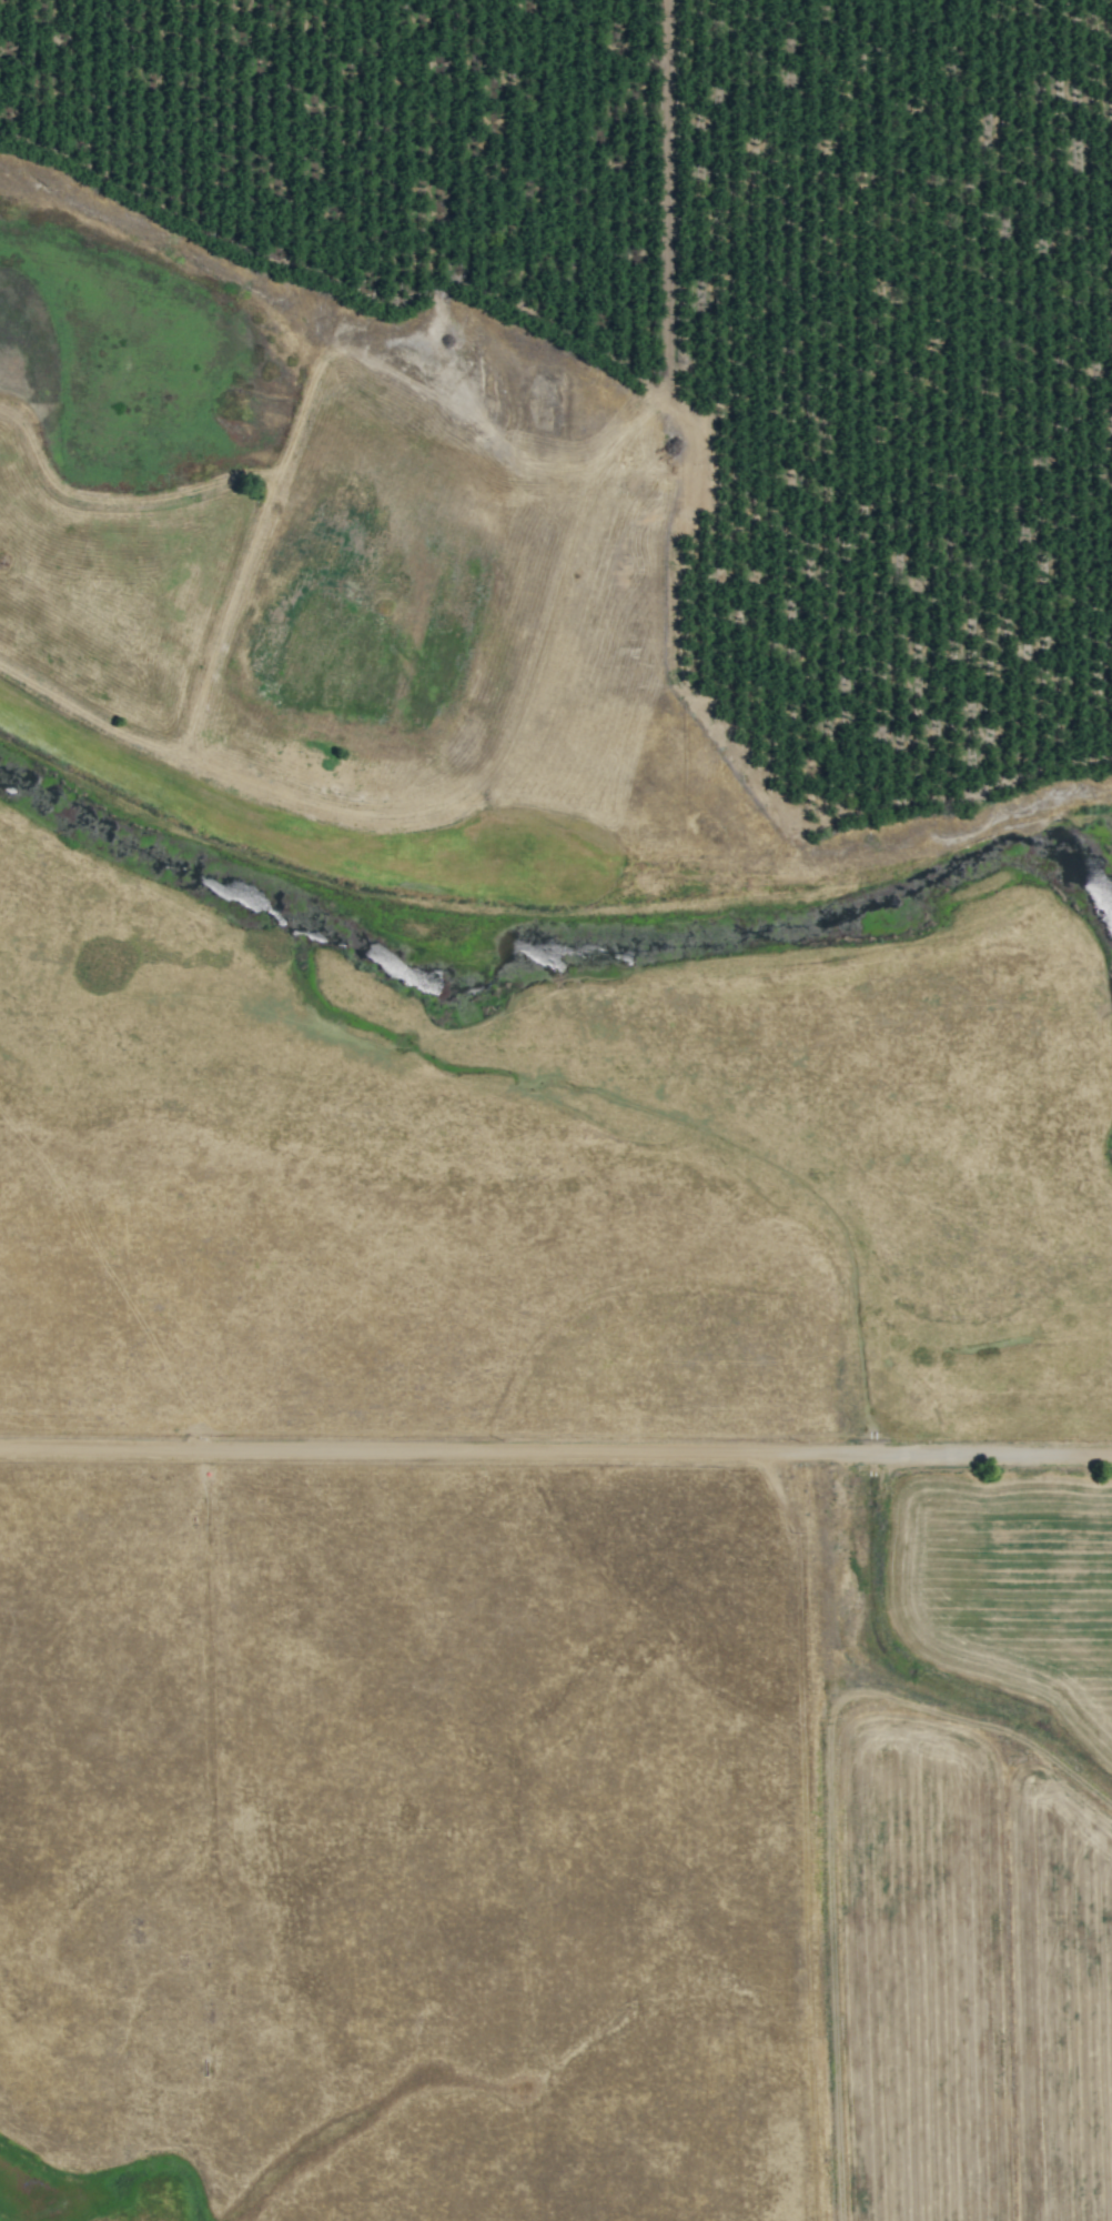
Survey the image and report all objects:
road: (556, 1444)

